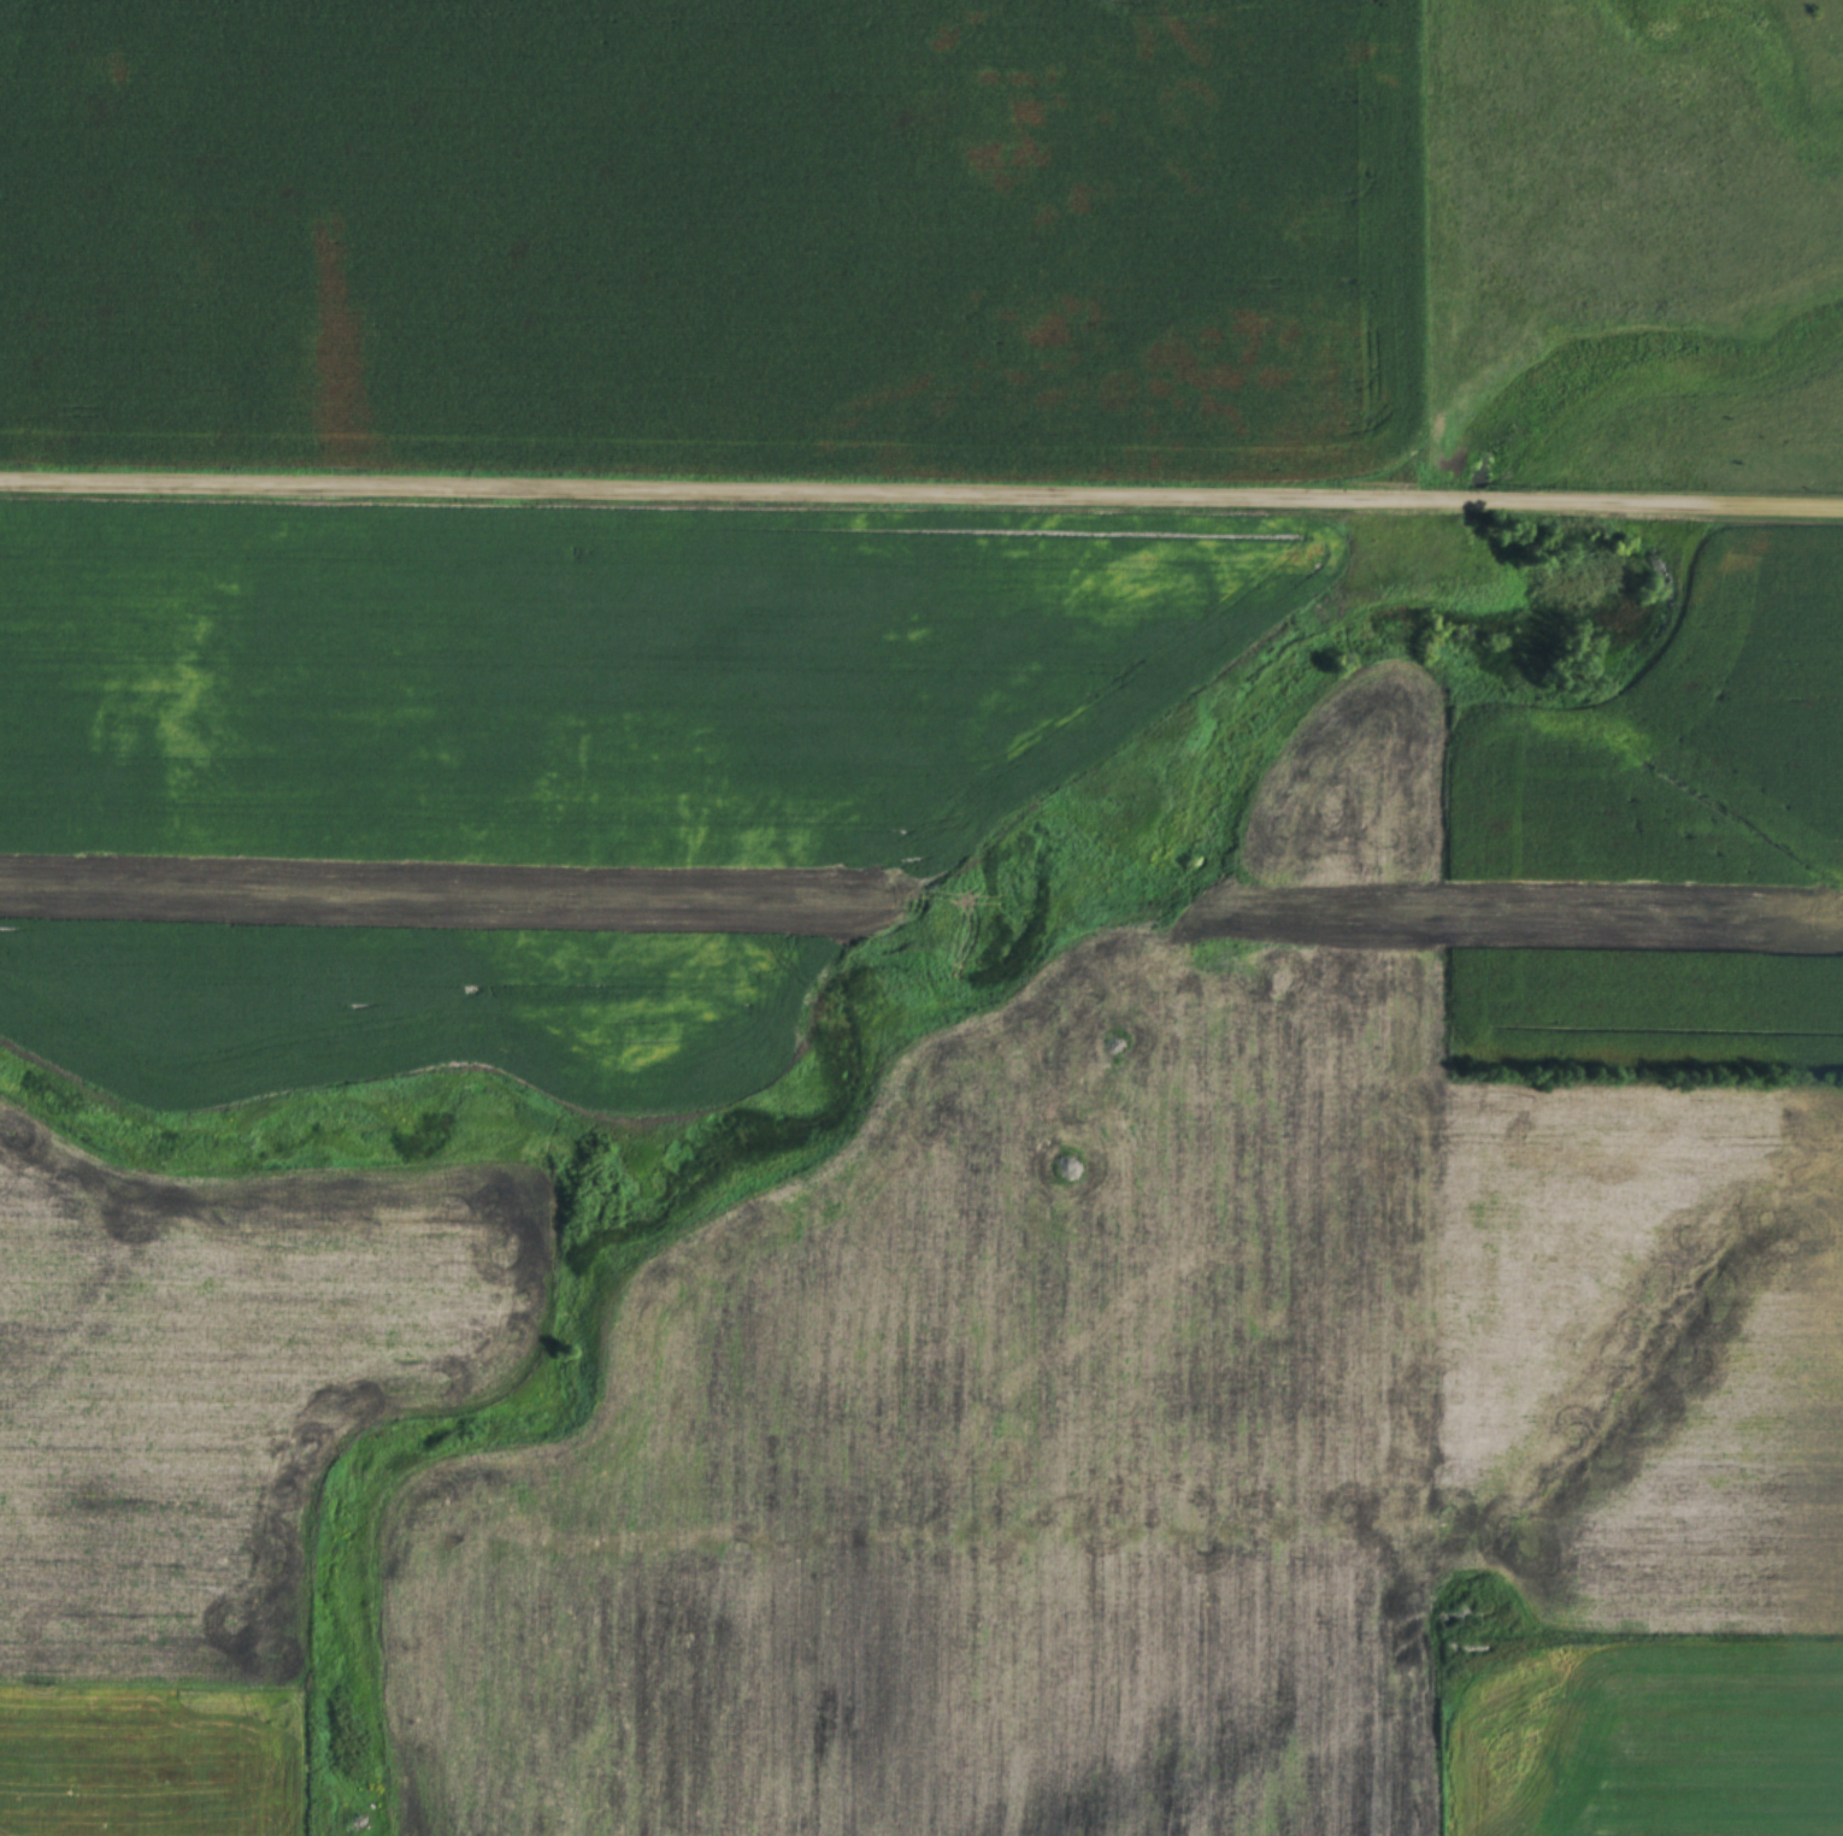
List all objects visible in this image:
road: (921, 498)

